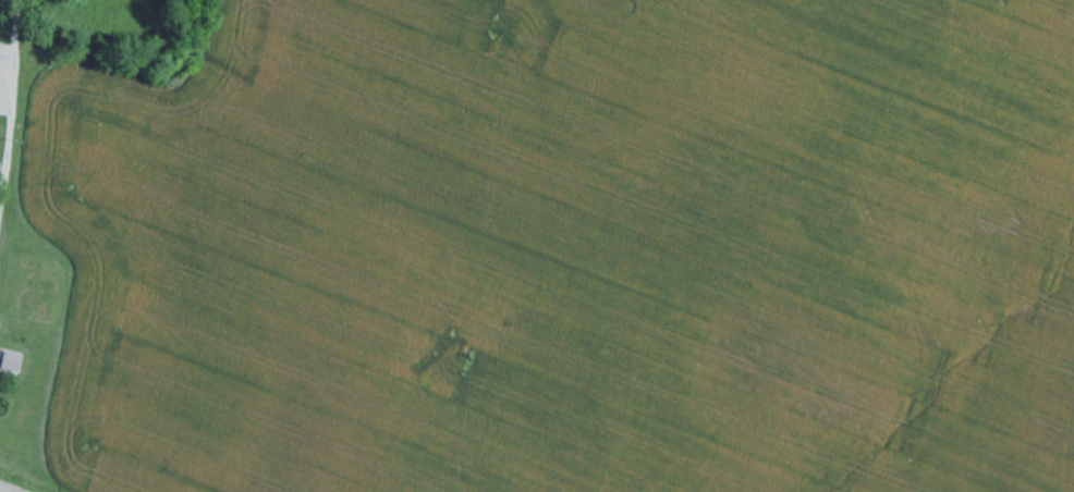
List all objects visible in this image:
building: (13, 364)

